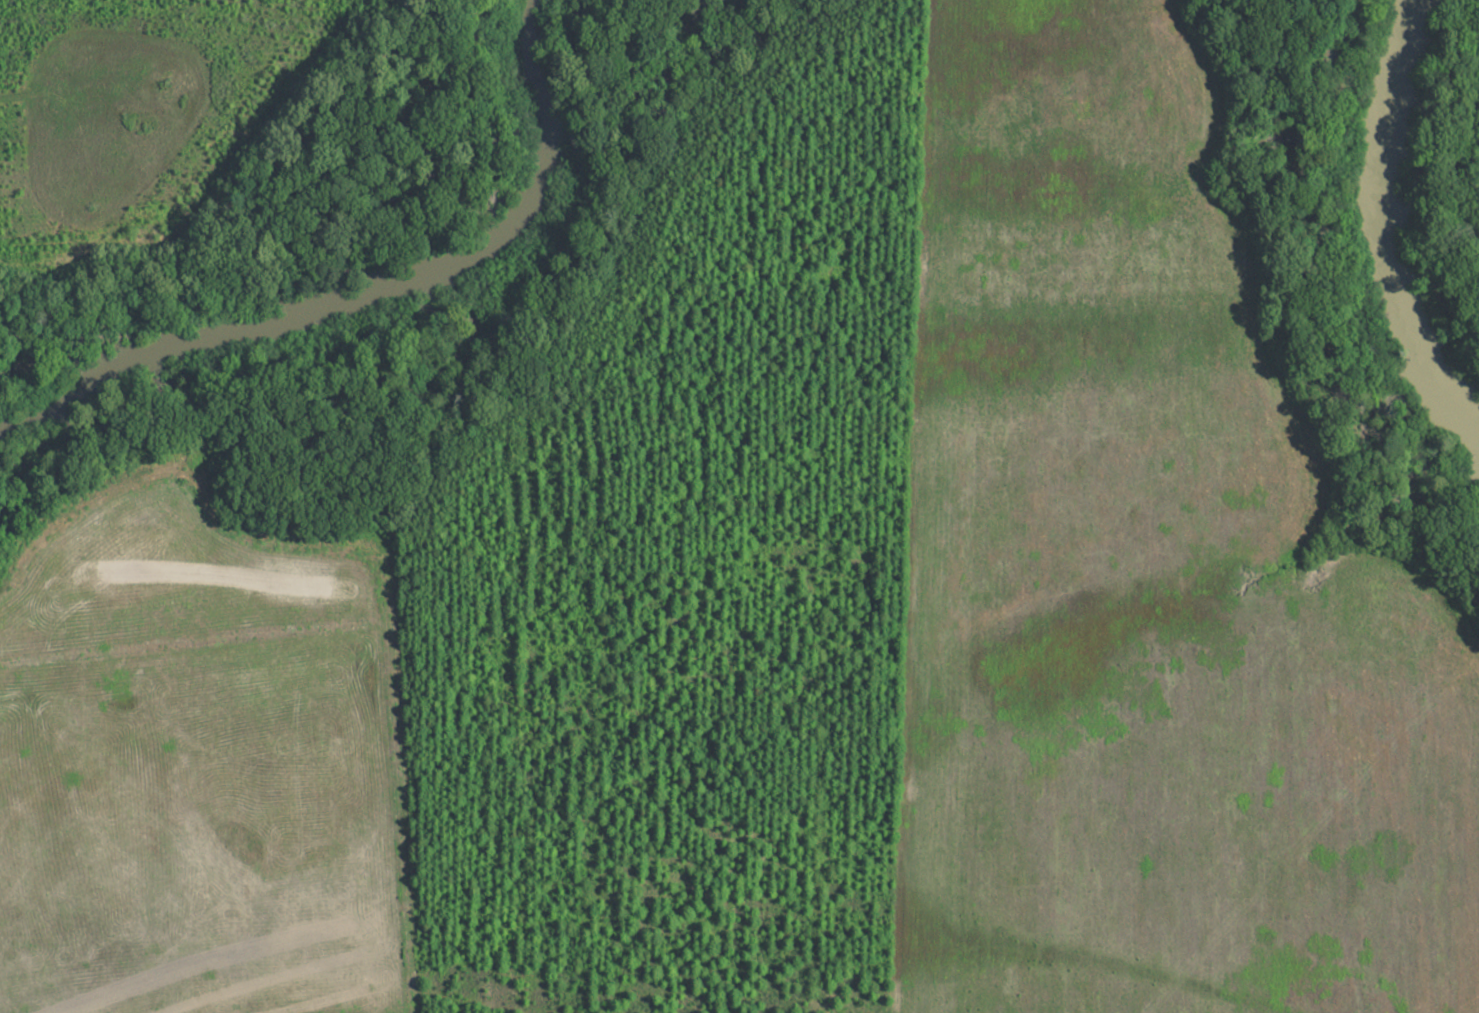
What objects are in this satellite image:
river: (1389, 215)

